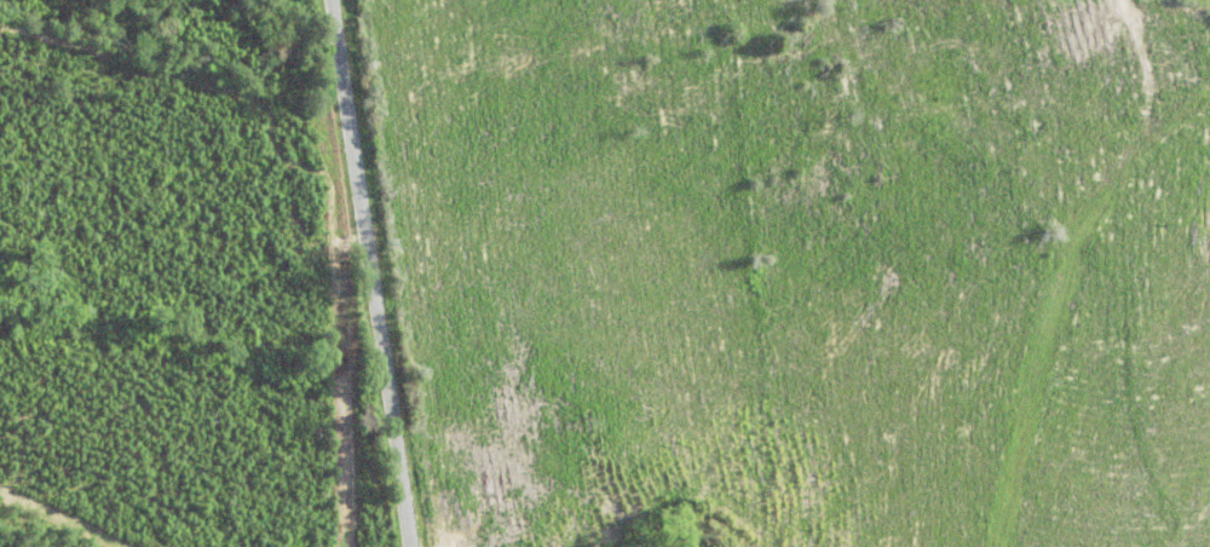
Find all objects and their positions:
road: (361, 273)

